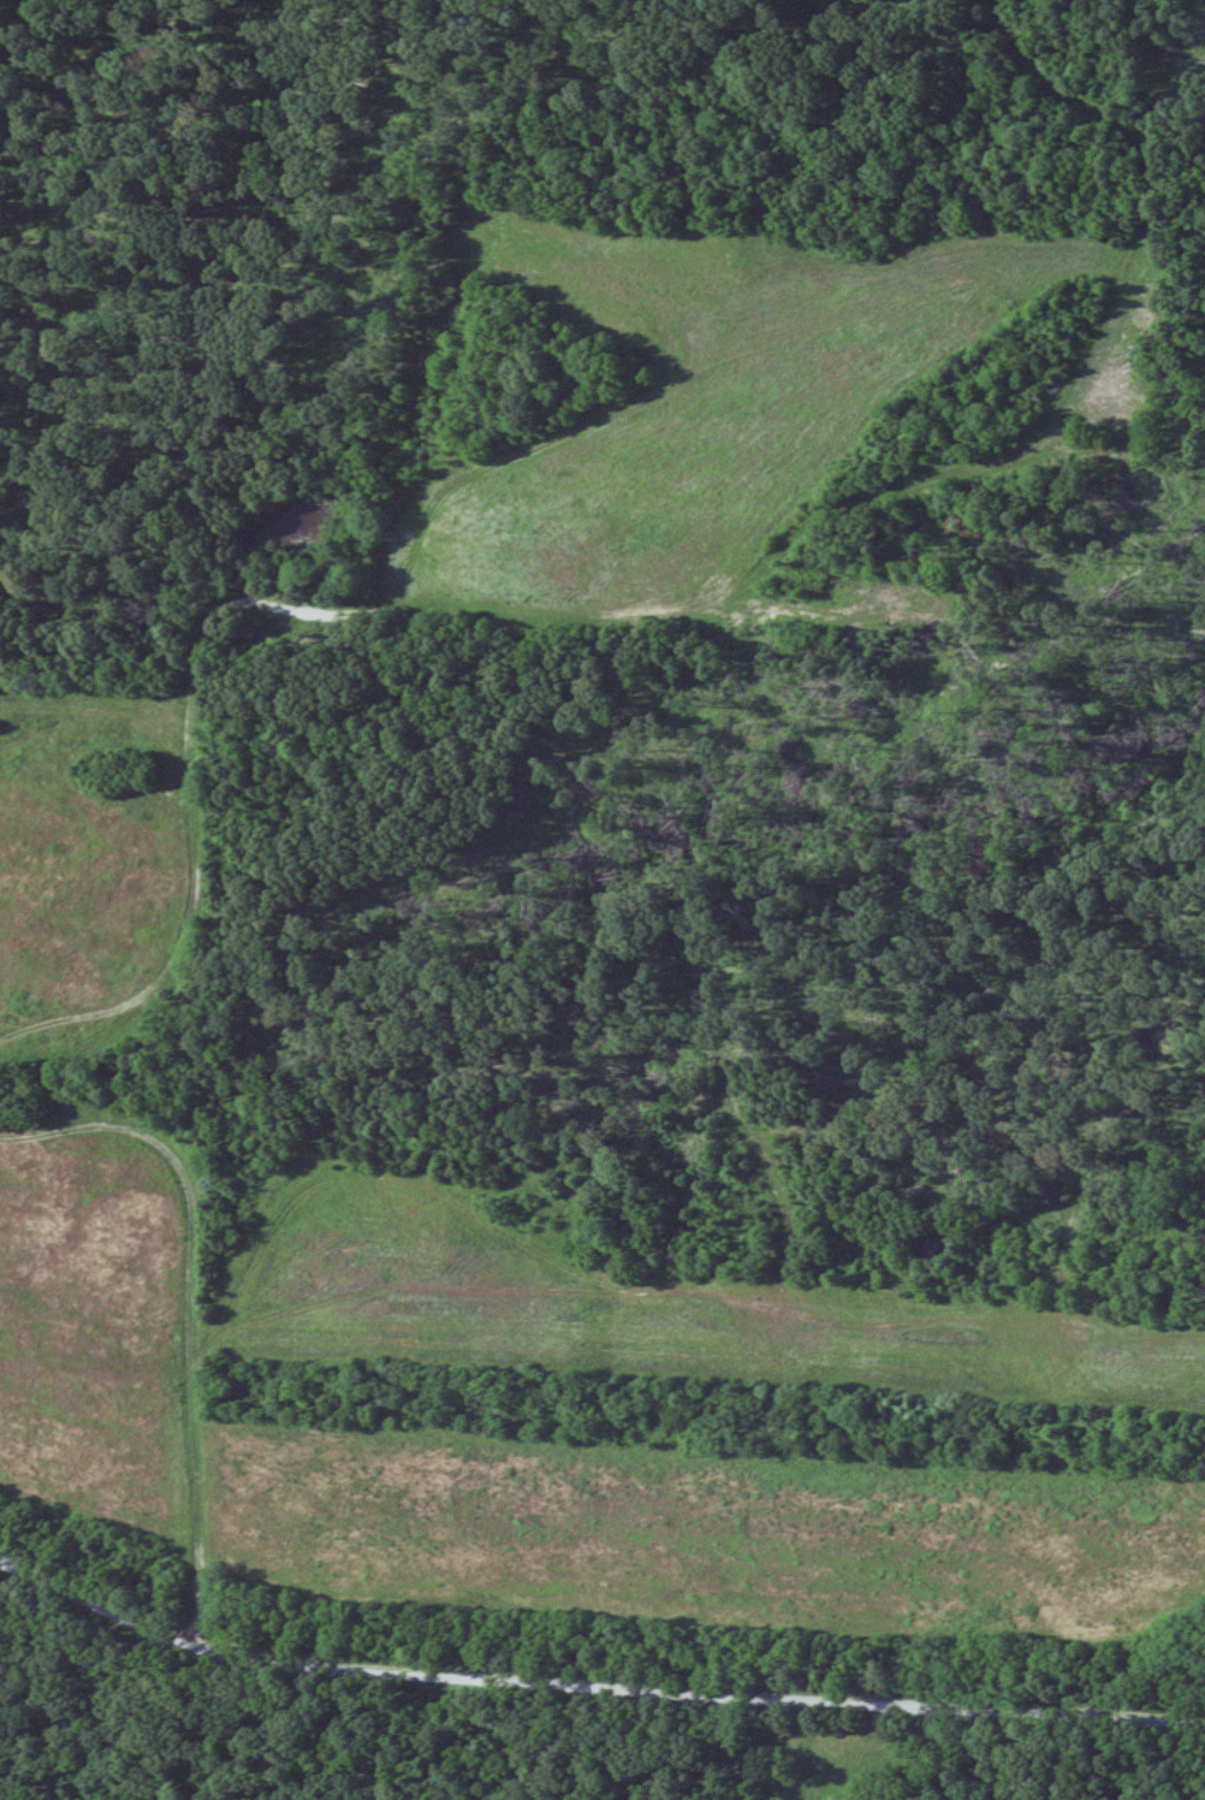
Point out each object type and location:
road: (593, 1688)

